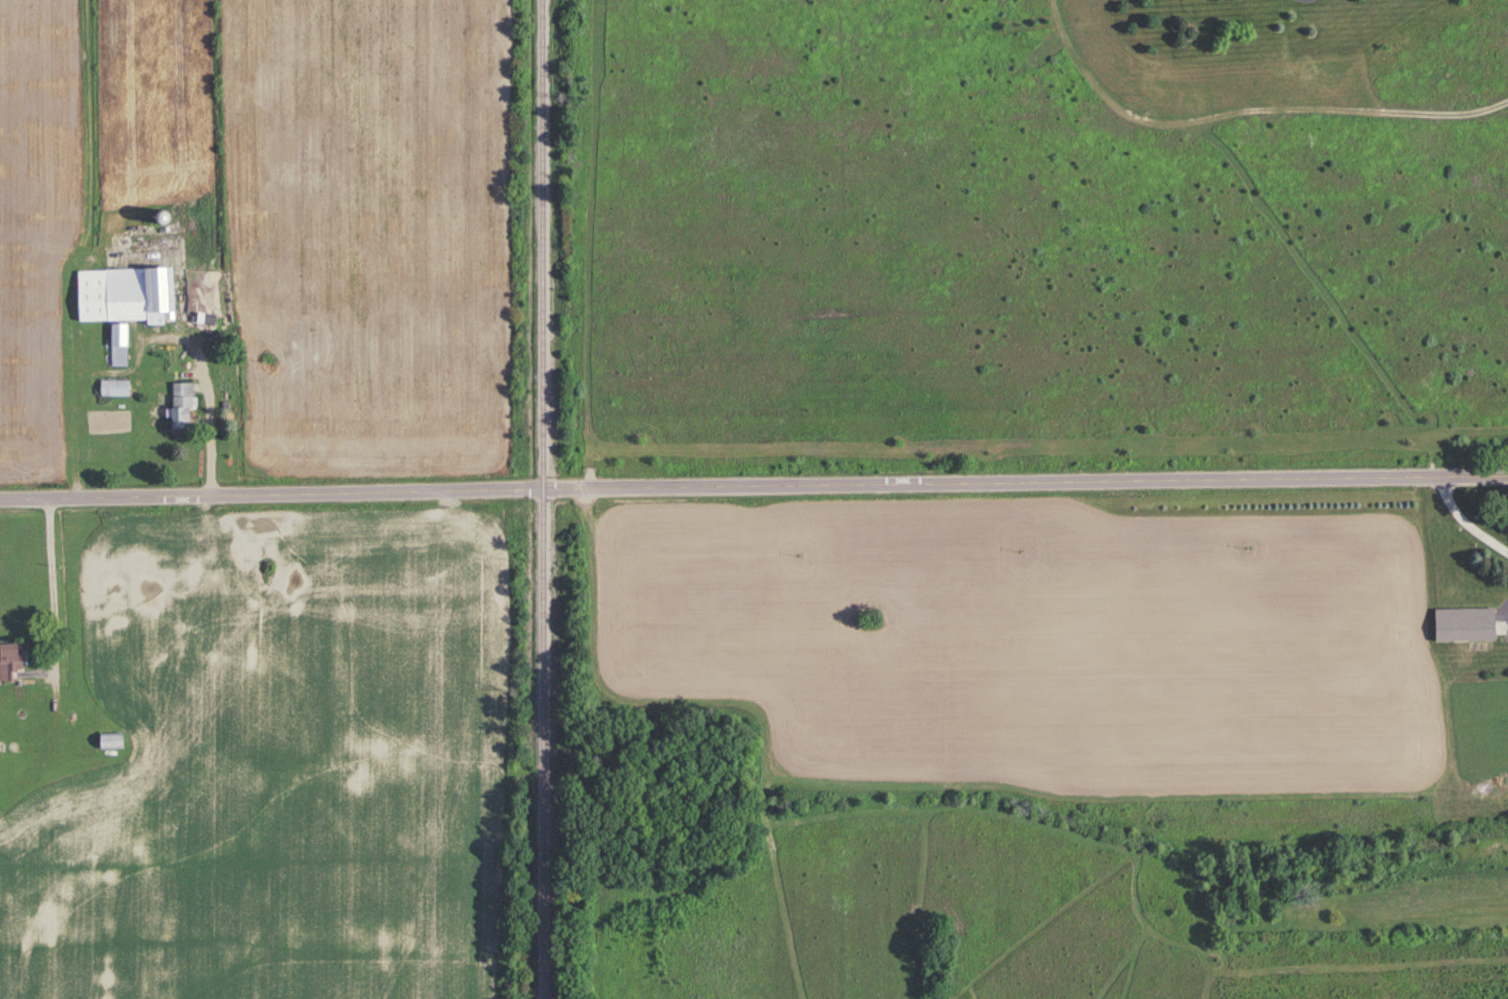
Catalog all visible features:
building: (119, 301)
building: (113, 389)
building: (179, 407)
road: (202, 421)
road: (753, 486)
railway: (543, 499)
road: (1464, 519)
road: (45, 578)
building: (1470, 624)
building: (8, 660)
building: (110, 740)

